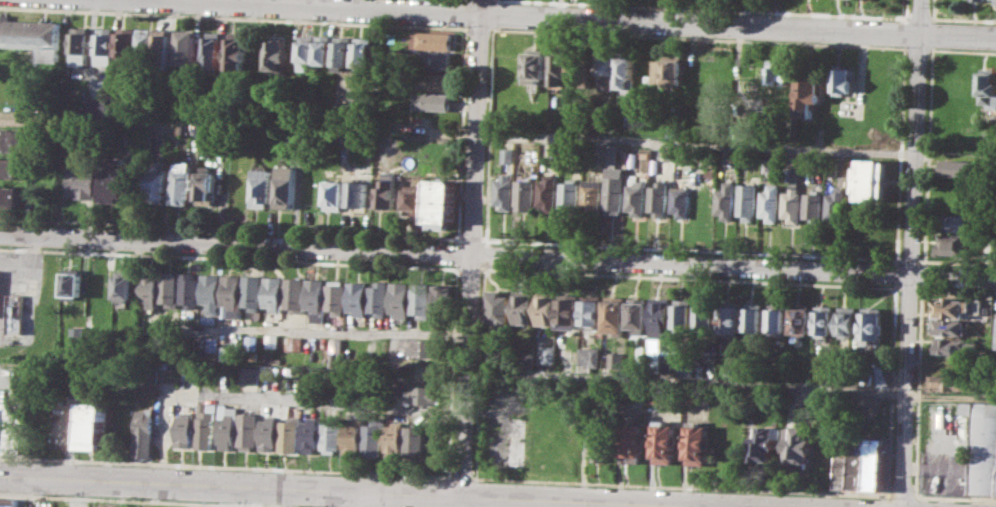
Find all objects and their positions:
road: (494, 0)
building: (980, 0)
building: (994, 1)
road: (719, 9)
road: (904, 10)
road: (932, 10)
road: (465, 12)
road: (493, 12)
road: (233, 17)
road: (574, 18)
road: (917, 18)
road: (962, 19)
road: (478, 27)
road: (903, 32)
road: (931, 33)
building: (31, 35)
road: (698, 38)
building: (434, 40)
building: (145, 44)
building: (79, 45)
building: (103, 45)
building: (160, 45)
building: (184, 46)
building: (125, 48)
road: (917, 48)
building: (212, 49)
building: (324, 50)
road: (962, 50)
building: (306, 51)
building: (364, 51)
building: (343, 52)
building: (235, 54)
building: (277, 54)
building: (433, 61)
building: (536, 65)
building: (558, 70)
building: (577, 70)
building: (607, 71)
building: (772, 71)
building: (673, 72)
building: (626, 74)
building: (432, 81)
building: (844, 81)
building: (988, 89)
building: (808, 95)
building: (432, 101)
building: (673, 131)
road: (460, 133)
road: (488, 134)
building: (13, 140)
road: (695, 144)
road: (898, 153)
building: (507, 154)
road: (926, 154)
building: (667, 155)
building: (632, 158)
building: (956, 166)
building: (767, 167)
building: (10, 168)
building: (793, 173)
building: (113, 179)
building: (871, 179)
building: (80, 181)
building: (613, 182)
building: (181, 183)
building: (205, 185)
building: (156, 186)
building: (285, 186)
building: (261, 187)
building: (503, 189)
building: (524, 190)
building: (547, 192)
building: (357, 193)
building: (385, 194)
building: (333, 195)
building: (569, 195)
building: (10, 196)
building: (591, 196)
building: (636, 197)
building: (412, 198)
building: (659, 198)
building: (681, 200)
building: (726, 200)
building: (440, 201)
building: (748, 201)
building: (771, 203)
building: (793, 203)
building: (814, 205)
building: (836, 206)
building: (953, 223)
road: (229, 227)
road: (468, 238)
building: (953, 243)
road: (471, 248)
road: (689, 248)
road: (455, 252)
road: (909, 253)
road: (484, 254)
road: (498, 255)
road: (230, 258)
road: (909, 259)
road: (957, 261)
road: (454, 265)
road: (469, 270)
road: (894, 272)
road: (921, 274)
road: (688, 278)
building: (72, 284)
building: (125, 284)
building: (169, 287)
building: (149, 288)
road: (908, 288)
building: (190, 289)
road: (956, 290)
building: (211, 291)
building: (253, 291)
building: (274, 292)
building: (295, 294)
building: (231, 295)
building: (336, 295)
building: (357, 296)
building: (316, 297)
building: (379, 298)
building: (400, 298)
building: (421, 299)
building: (441, 299)
building: (950, 306)
building: (524, 307)
building: (501, 308)
building: (547, 308)
building: (593, 309)
building: (570, 310)
building: (15, 312)
building: (615, 313)
building: (640, 314)
building: (684, 314)
building: (707, 315)
building: (732, 316)
building: (661, 317)
building: (777, 319)
building: (209, 320)
building: (754, 320)
building: (801, 320)
building: (847, 320)
building: (824, 322)
building: (871, 322)
building: (949, 327)
road: (303, 331)
building: (77, 333)
building: (272, 340)
building: (252, 341)
building: (295, 342)
building: (213, 344)
building: (227, 344)
building: (952, 345)
building: (430, 348)
building: (336, 350)
building: (550, 354)
building: (591, 357)
building: (616, 359)
building: (192, 369)
road: (479, 369)
building: (268, 371)
building: (701, 371)
road: (451, 373)
building: (250, 375)
road: (685, 380)
building: (949, 382)
road: (890, 388)
road: (917, 391)
building: (424, 394)
building: (657, 394)
road: (302, 399)
building: (92, 425)
building: (206, 425)
building: (12, 426)
building: (226, 426)
building: (184, 429)
building: (247, 429)
building: (143, 433)
building: (268, 433)
building: (288, 434)
building: (311, 434)
building: (331, 435)
building: (353, 436)
building: (373, 437)
building: (394, 439)
building: (414, 440)
building: (599, 440)
building: (518, 441)
building: (665, 441)
building: (631, 442)
building: (698, 443)
building: (764, 443)
building: (798, 444)
building: (981, 446)
building: (865, 463)
road: (225, 466)
building: (840, 471)
parking lot: (944, 472)
road: (461, 476)
road: (678, 485)
road: (348, 490)
road: (900, 495)
road: (238, 496)
road: (955, 497)
road: (348, 499)
road: (152, 500)
building: (8, 502)

